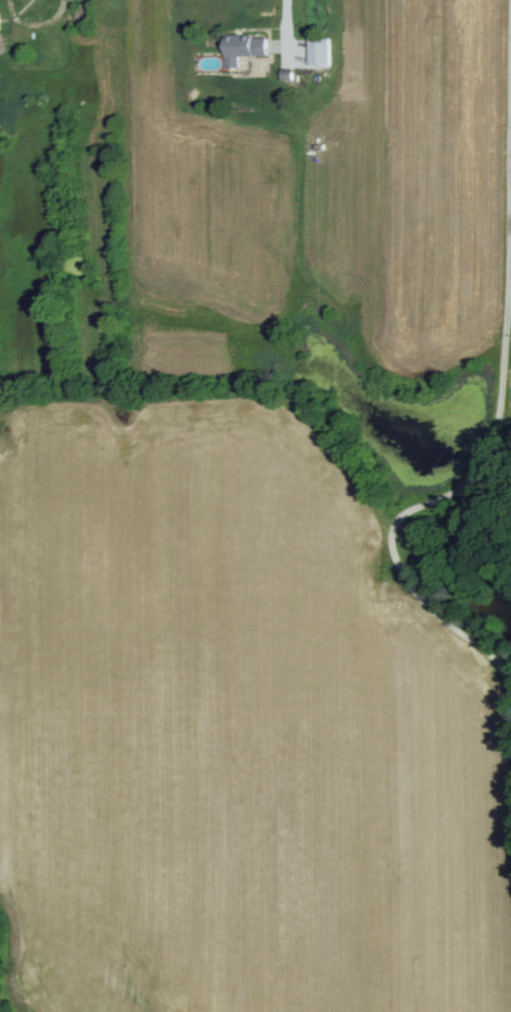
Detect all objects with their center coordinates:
road: (287, 31)
building: (245, 49)
building: (320, 52)
road: (507, 355)

